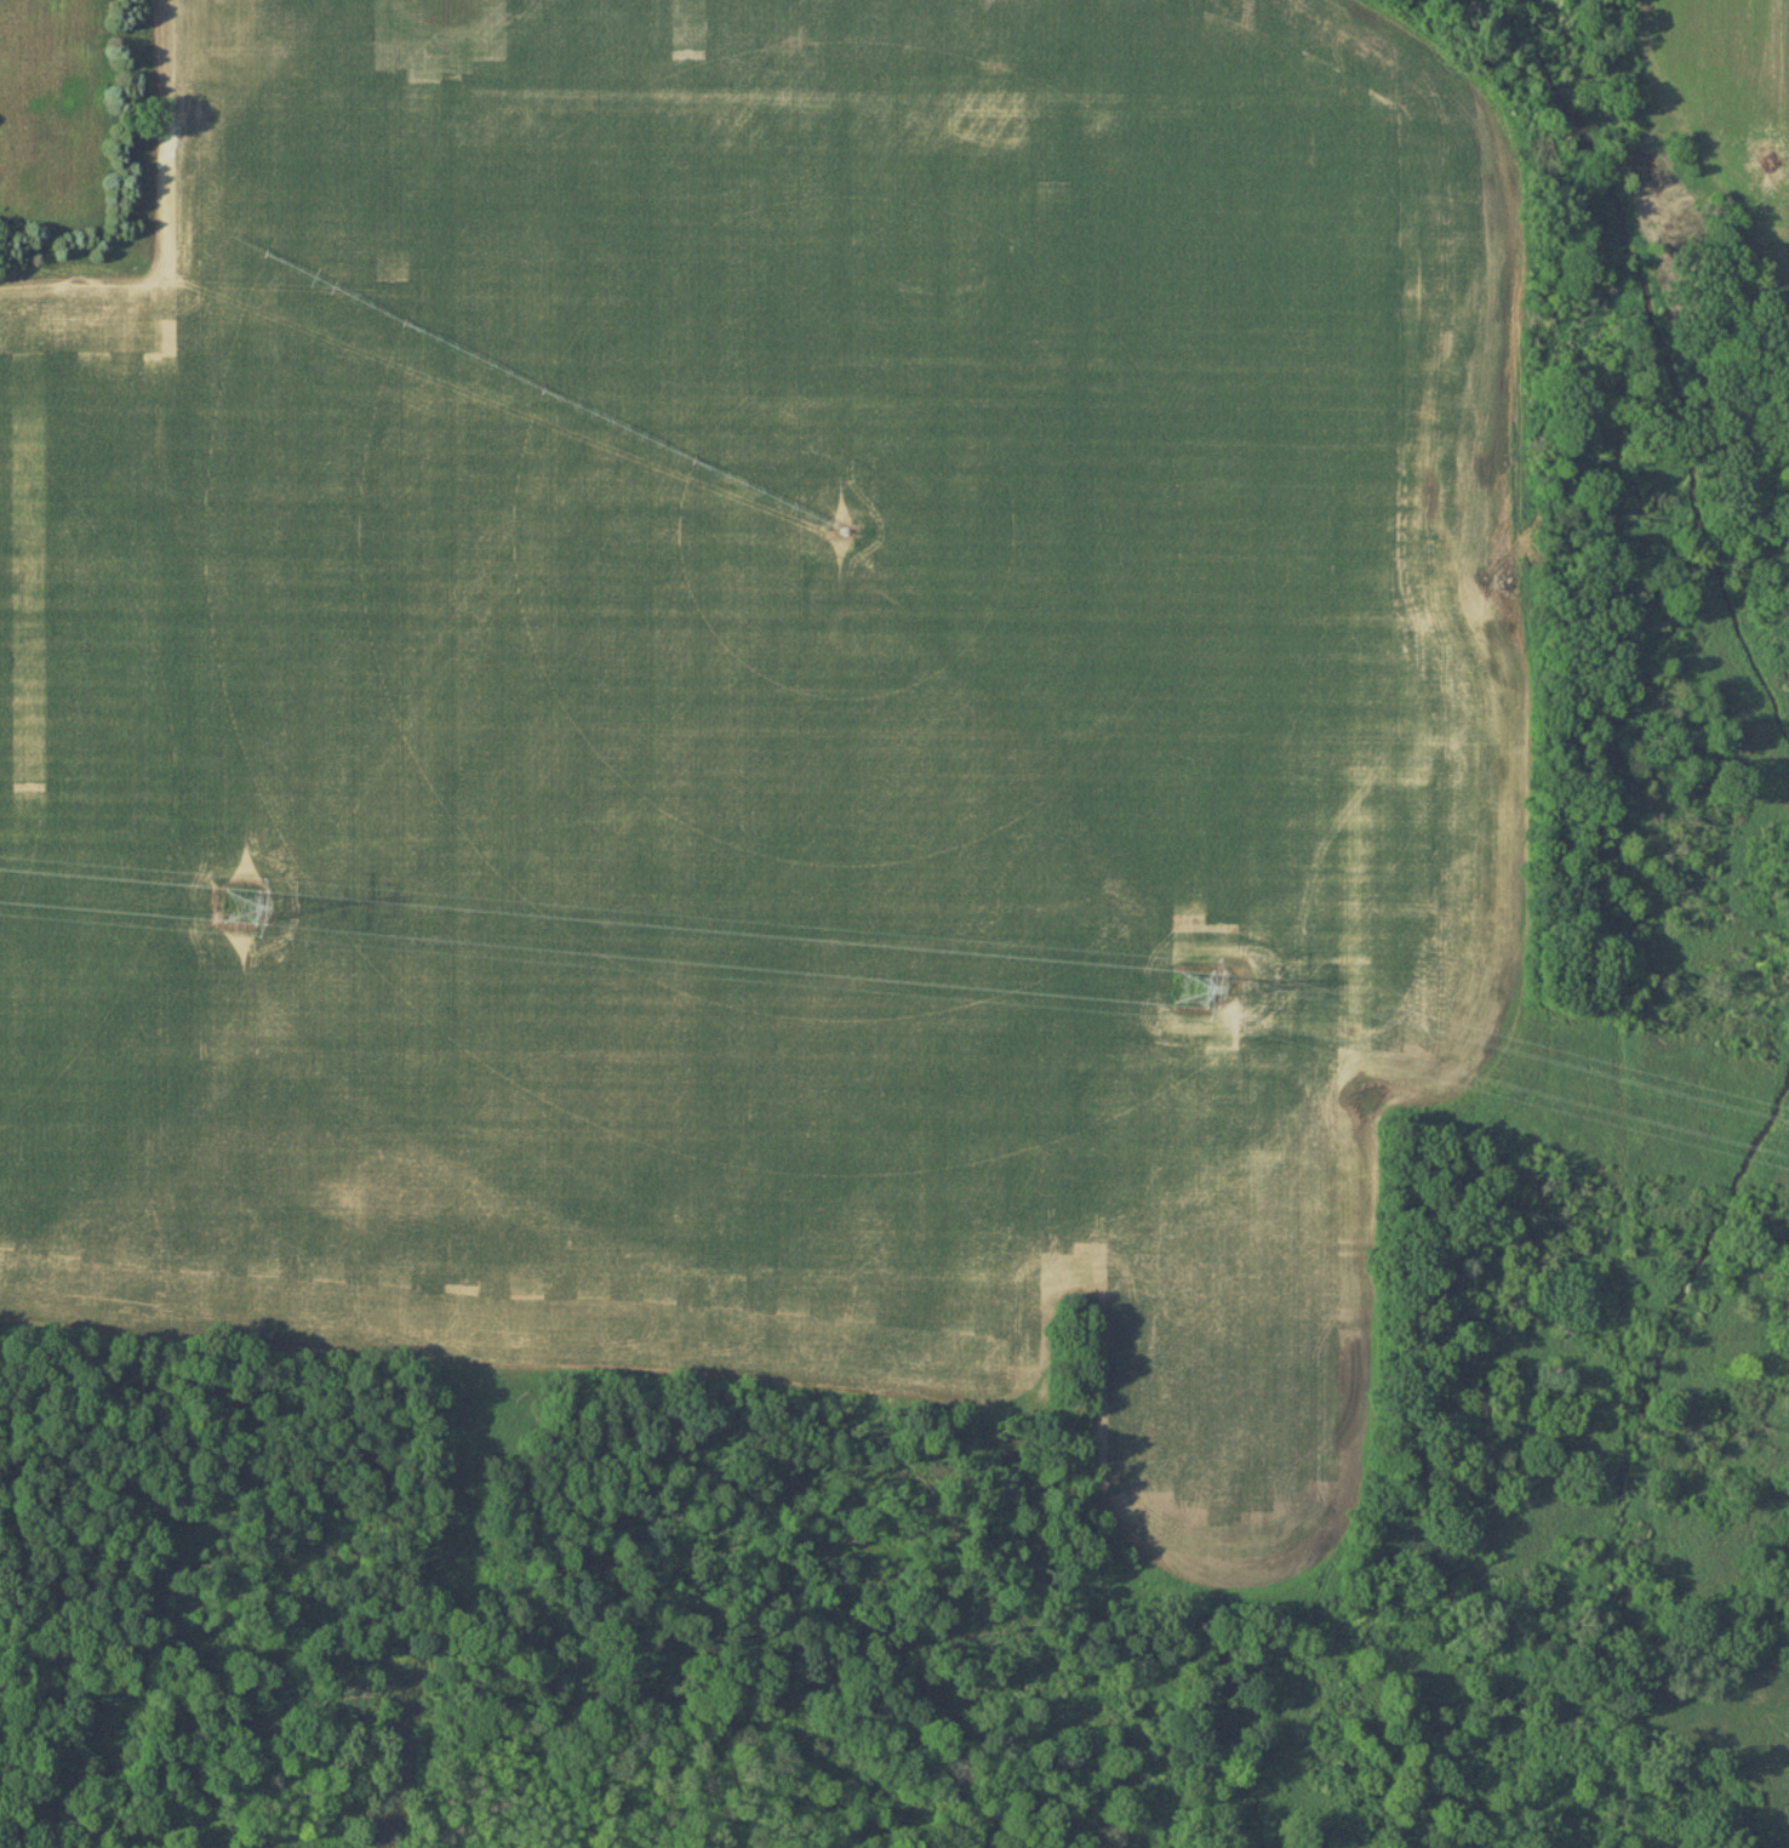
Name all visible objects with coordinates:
power tower: (236, 903)
power tower: (1196, 986)

